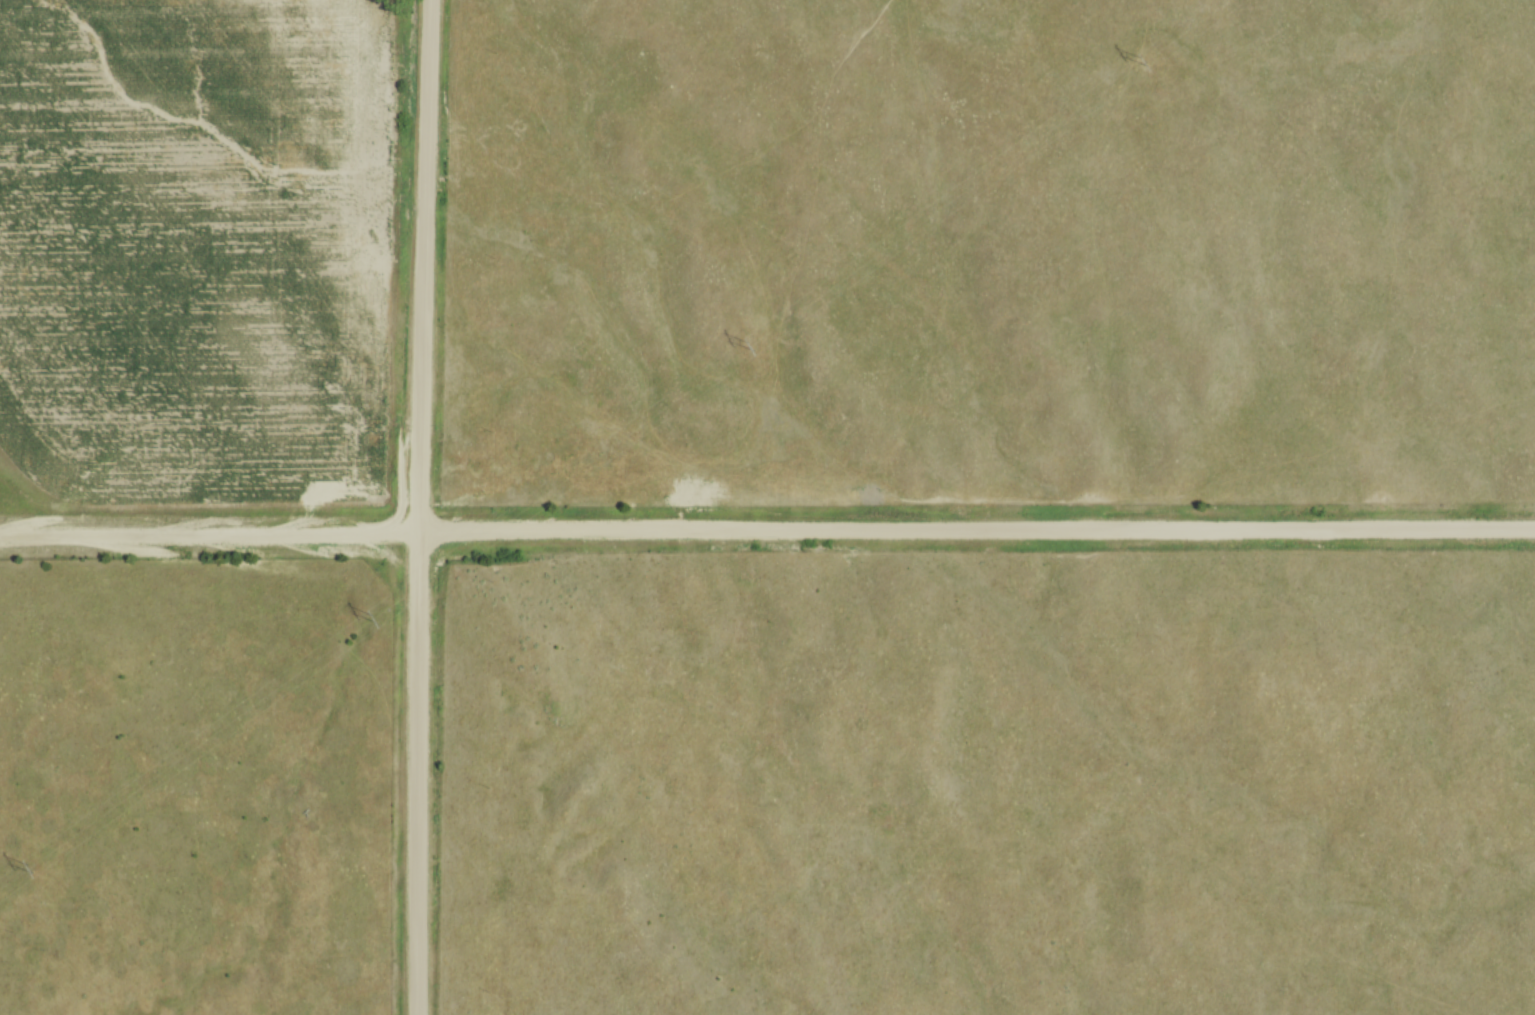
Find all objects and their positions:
power tower: (1142, 65)
power tower: (751, 350)
road: (421, 507)
road: (767, 531)
power tower: (375, 623)
power tower: (30, 872)

